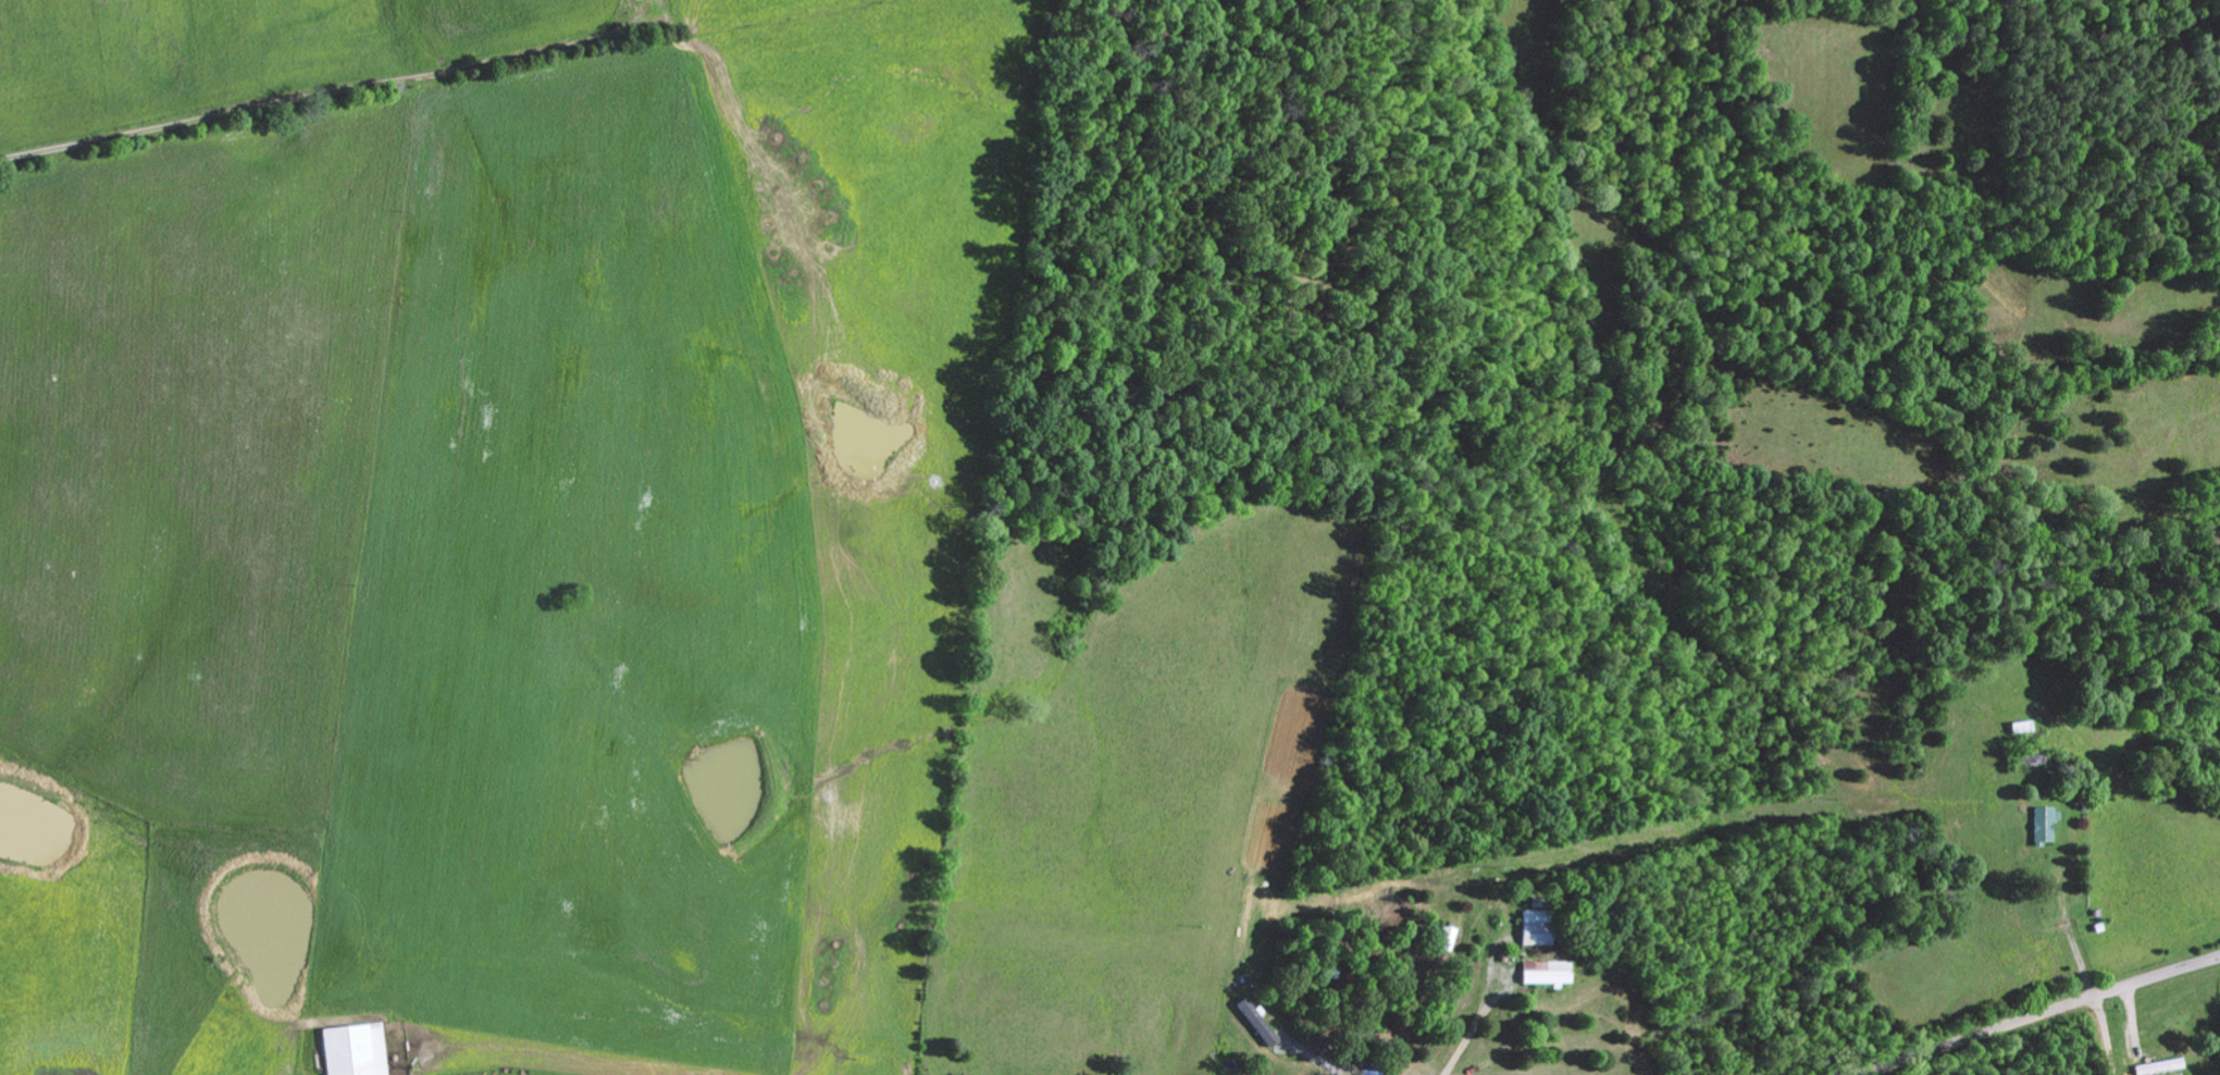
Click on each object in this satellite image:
road: (349, 111)
building: (2045, 824)
building: (1535, 927)
building: (1546, 973)
road: (2037, 1016)
building: (1257, 1023)
road: (2116, 1034)
building: (354, 1050)
building: (2158, 1066)

